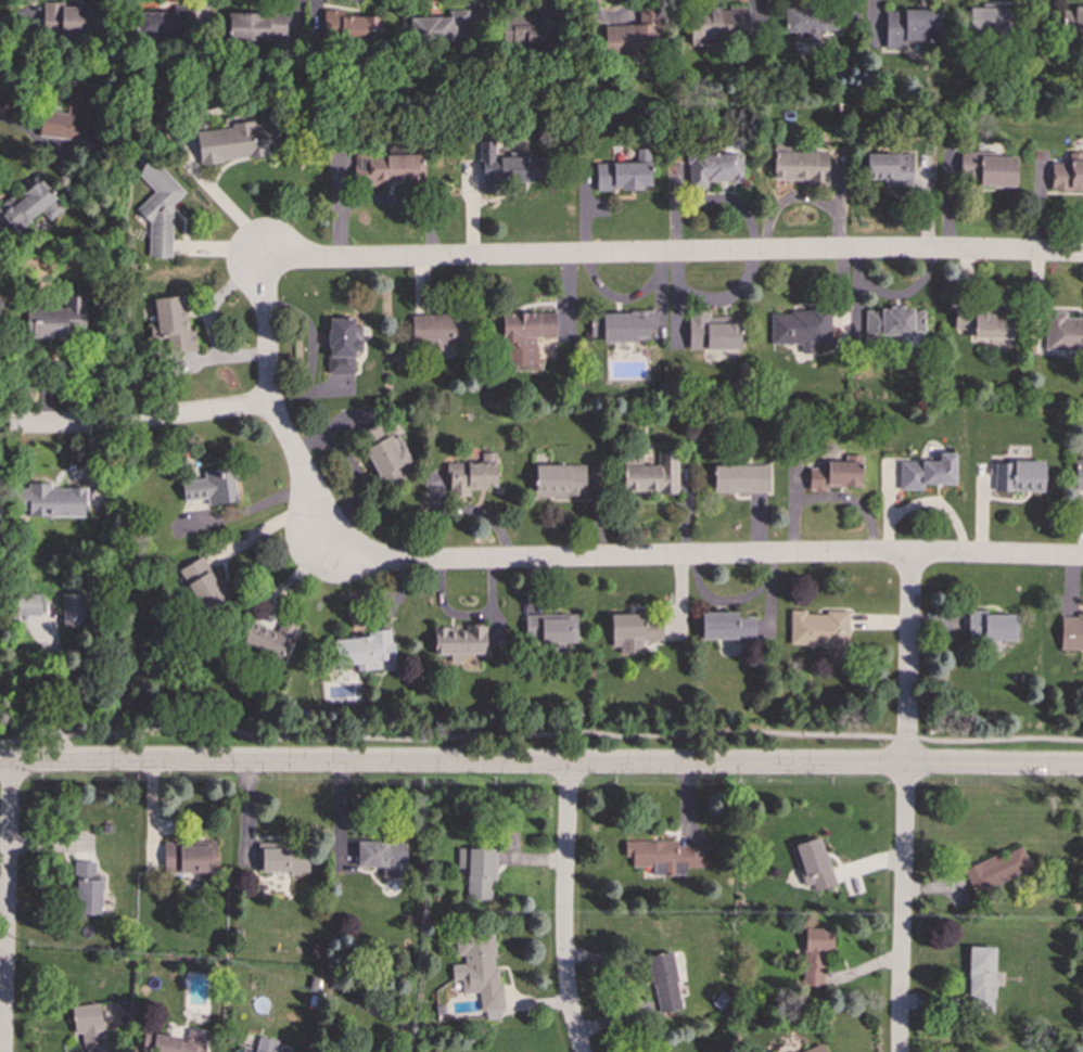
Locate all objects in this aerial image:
building: (72, 18)
building: (988, 20)
building: (1072, 20)
building: (155, 23)
building: (717, 23)
building: (810, 23)
building: (257, 26)
building: (352, 26)
building: (910, 26)
building: (441, 27)
building: (532, 28)
building: (634, 34)
building: (74, 114)
building: (237, 141)
building: (801, 166)
building: (506, 167)
building: (980, 167)
building: (390, 168)
building: (713, 168)
building: (890, 168)
building: (625, 174)
building: (1068, 174)
building: (26, 204)
building: (158, 208)
road: (671, 254)
building: (54, 320)
building: (893, 322)
building: (986, 323)
building: (171, 324)
building: (621, 326)
building: (800, 328)
building: (438, 330)
building: (1063, 332)
building: (524, 335)
building: (343, 344)
road: (273, 408)
road: (140, 420)
building: (385, 456)
building: (927, 472)
building: (837, 473)
building: (653, 474)
building: (1079, 474)
building: (471, 475)
building: (1018, 476)
building: (740, 478)
building: (558, 479)
building: (212, 487)
building: (51, 501)
road: (704, 556)
road: (298, 577)
building: (204, 585)
building: (28, 603)
building: (73, 610)
building: (726, 626)
building: (991, 626)
building: (817, 628)
building: (549, 629)
building: (633, 631)
building: (1070, 632)
building: (270, 639)
building: (460, 640)
building: (364, 650)
road: (63, 691)
road: (540, 733)
road: (541, 765)
road: (905, 803)
building: (666, 856)
building: (383, 857)
building: (190, 858)
building: (282, 858)
building: (812, 863)
building: (996, 869)
building: (477, 871)
building: (87, 888)
road: (5, 907)
road: (564, 909)
building: (815, 954)
building: (479, 968)
building: (981, 978)
building: (664, 983)
building: (90, 1026)
building: (180, 1042)
building: (260, 1045)
building: (814, 1049)

